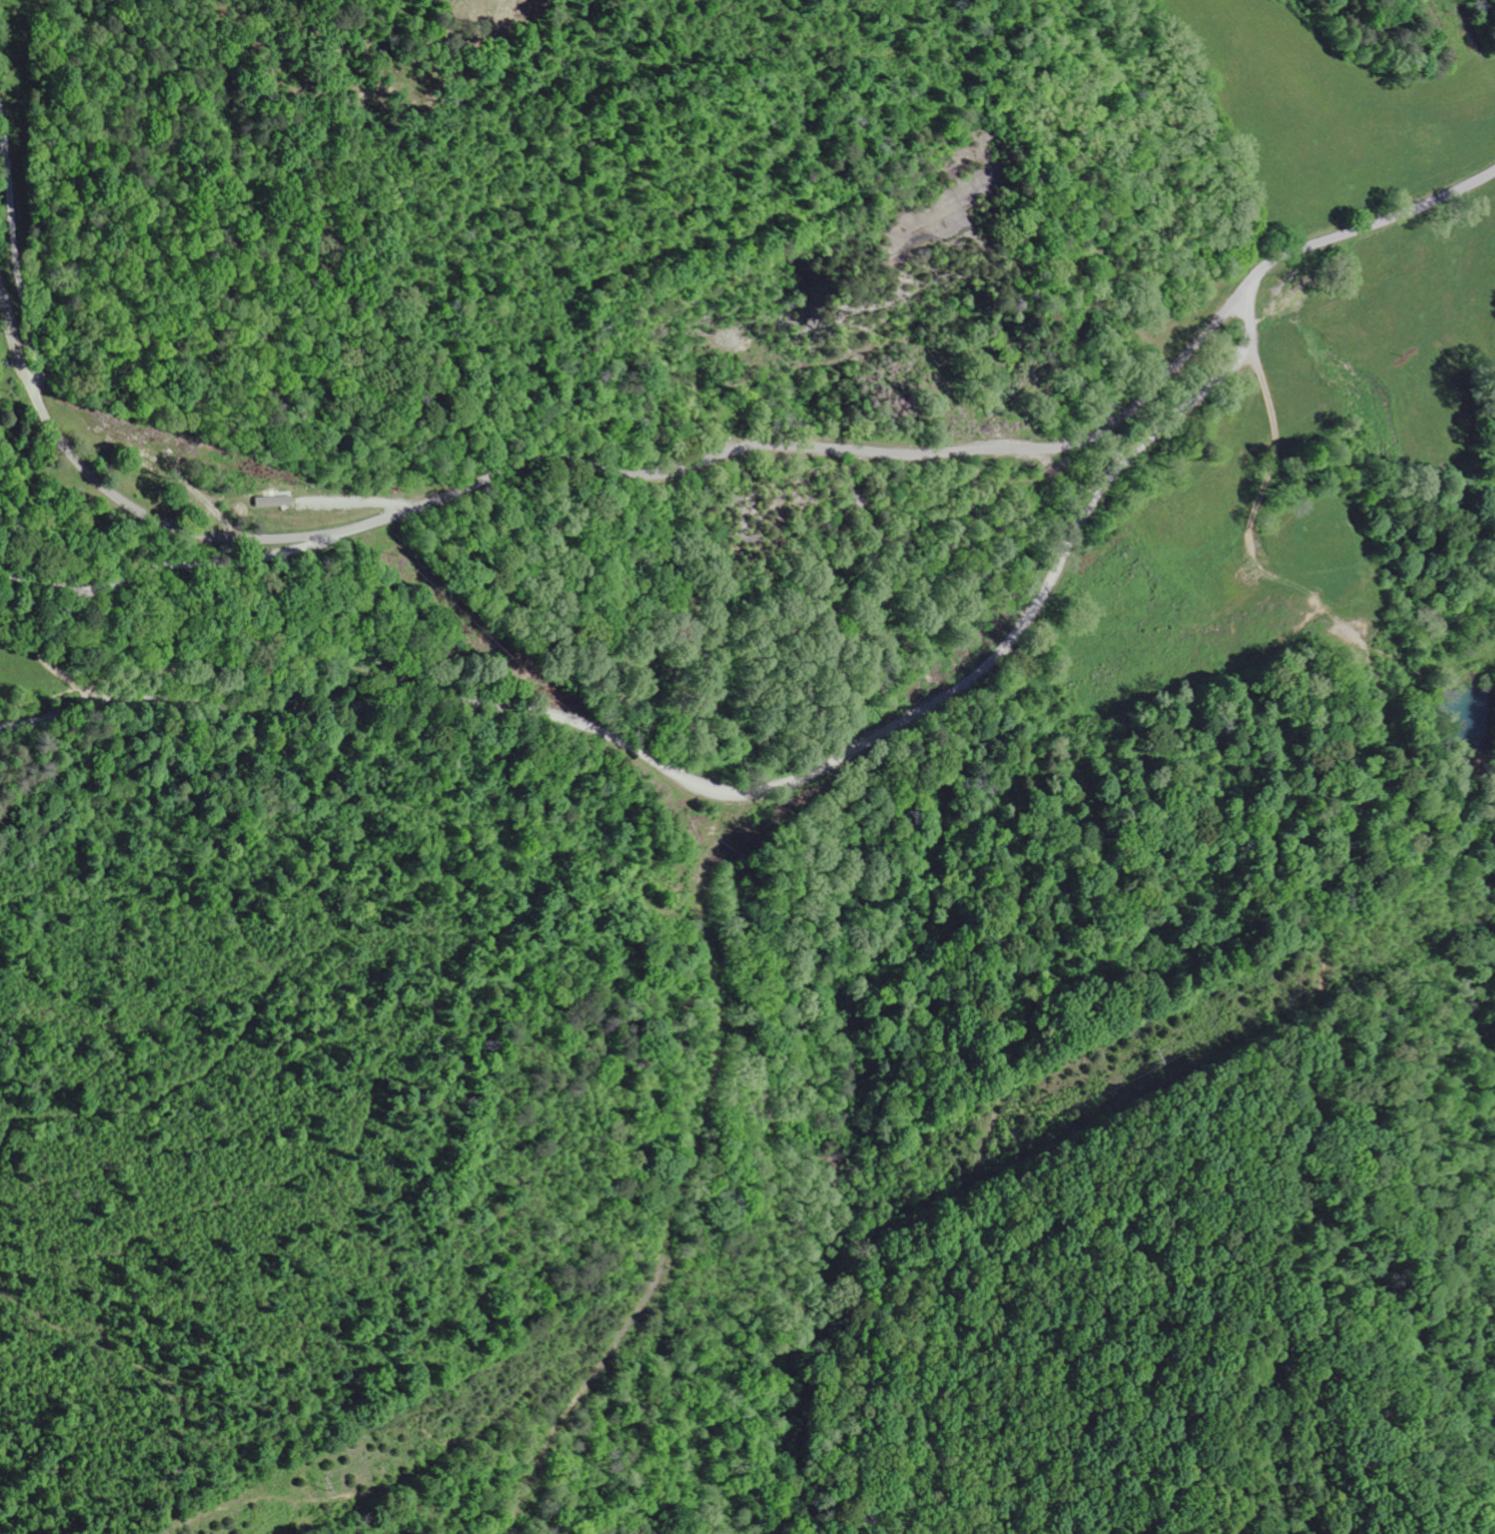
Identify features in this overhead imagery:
road: (582, 461)
building: (275, 502)
road: (171, 563)
road: (48, 668)
road: (866, 742)

